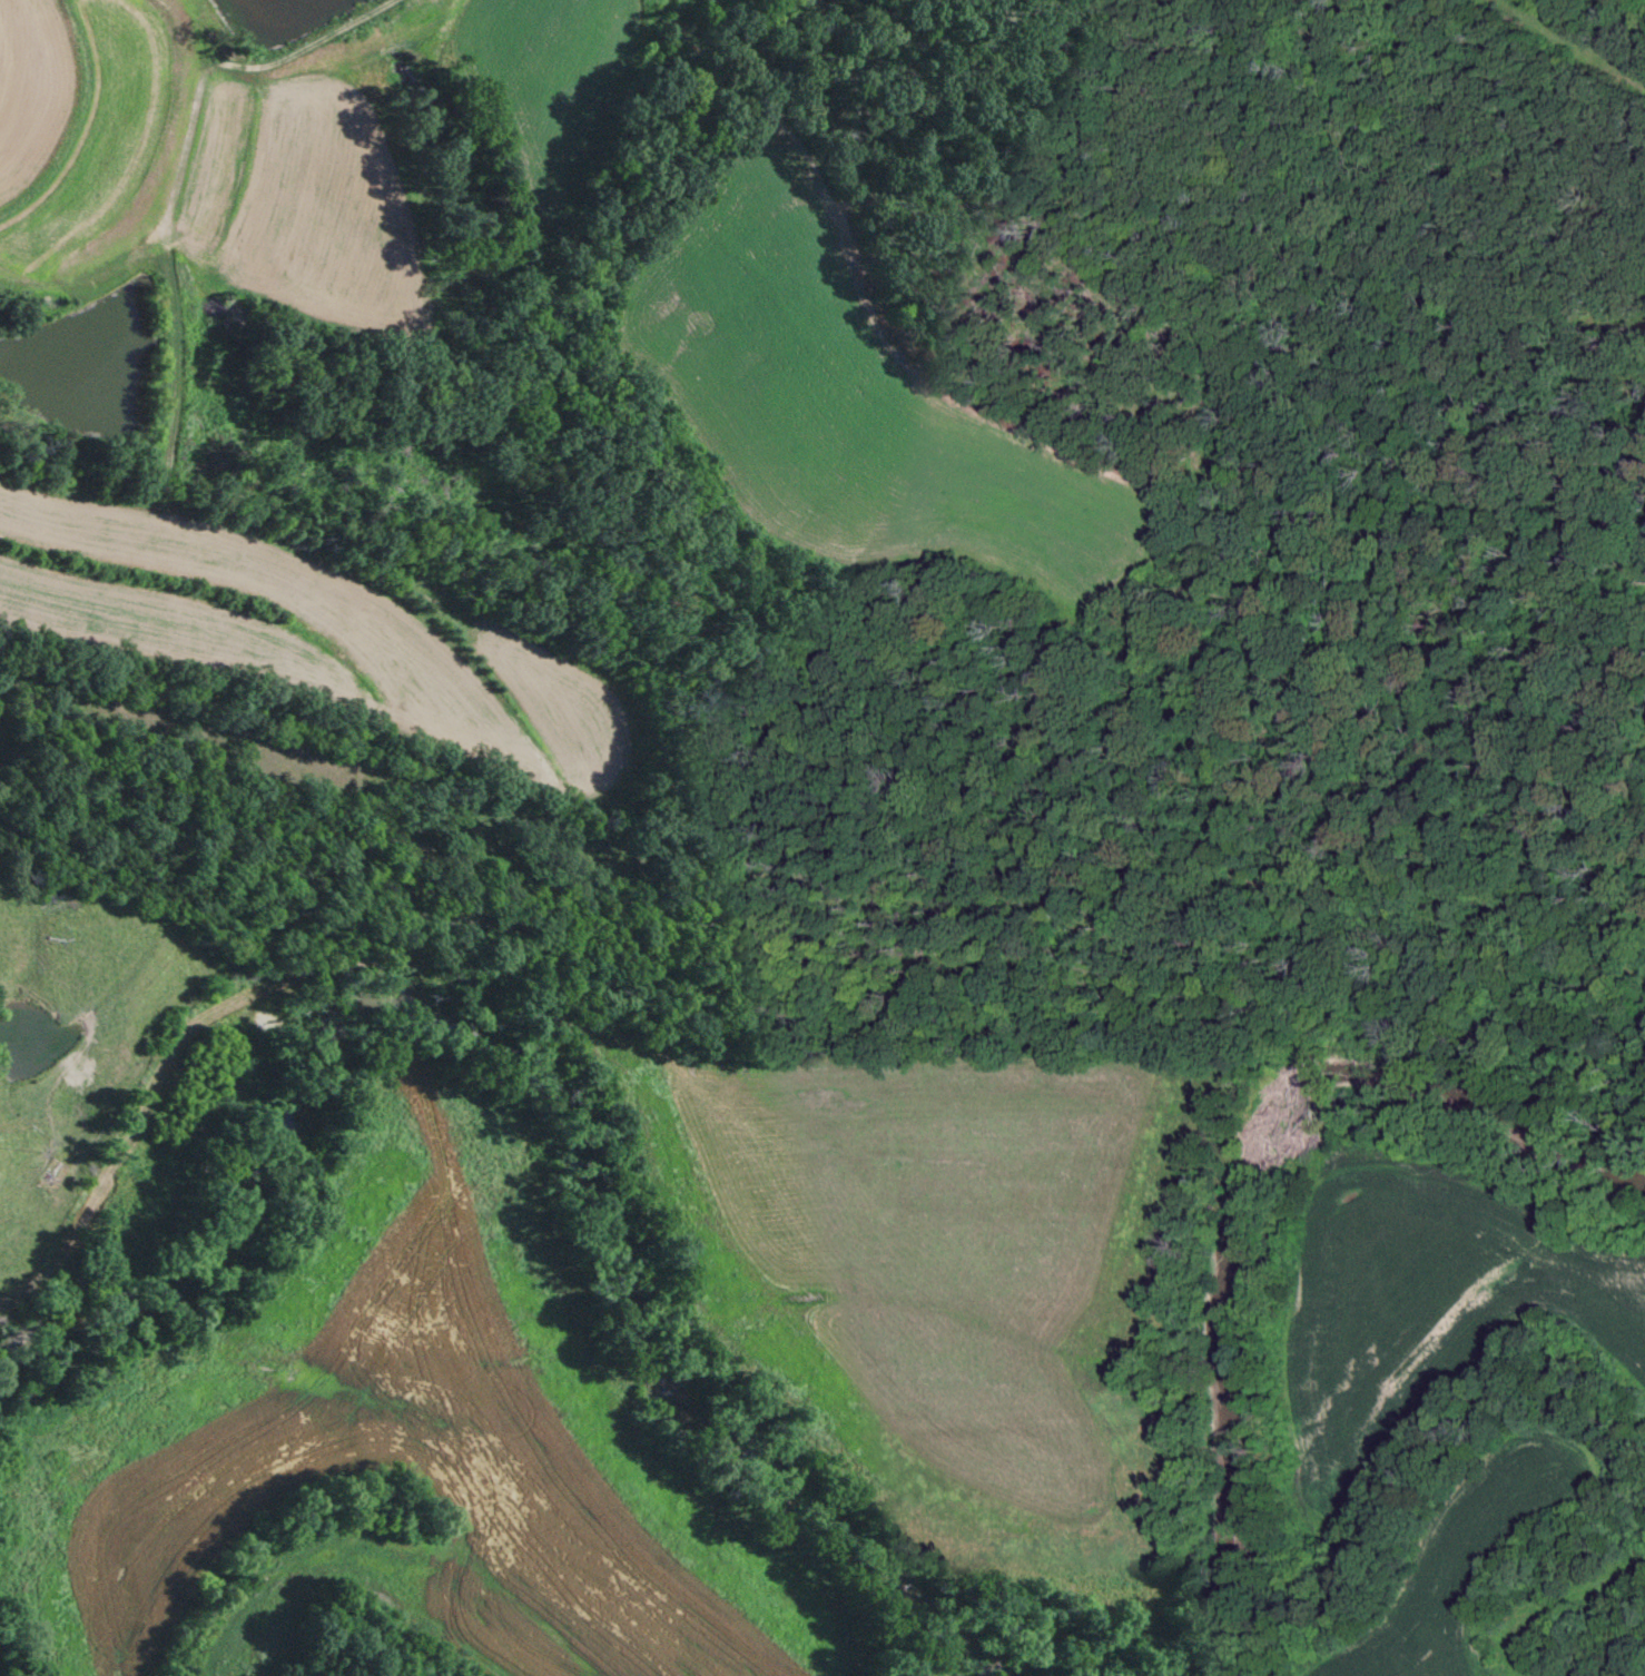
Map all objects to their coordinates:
road: (1643, 2)
river: (543, 1079)
river: (1242, 1192)
river: (2, 1666)

